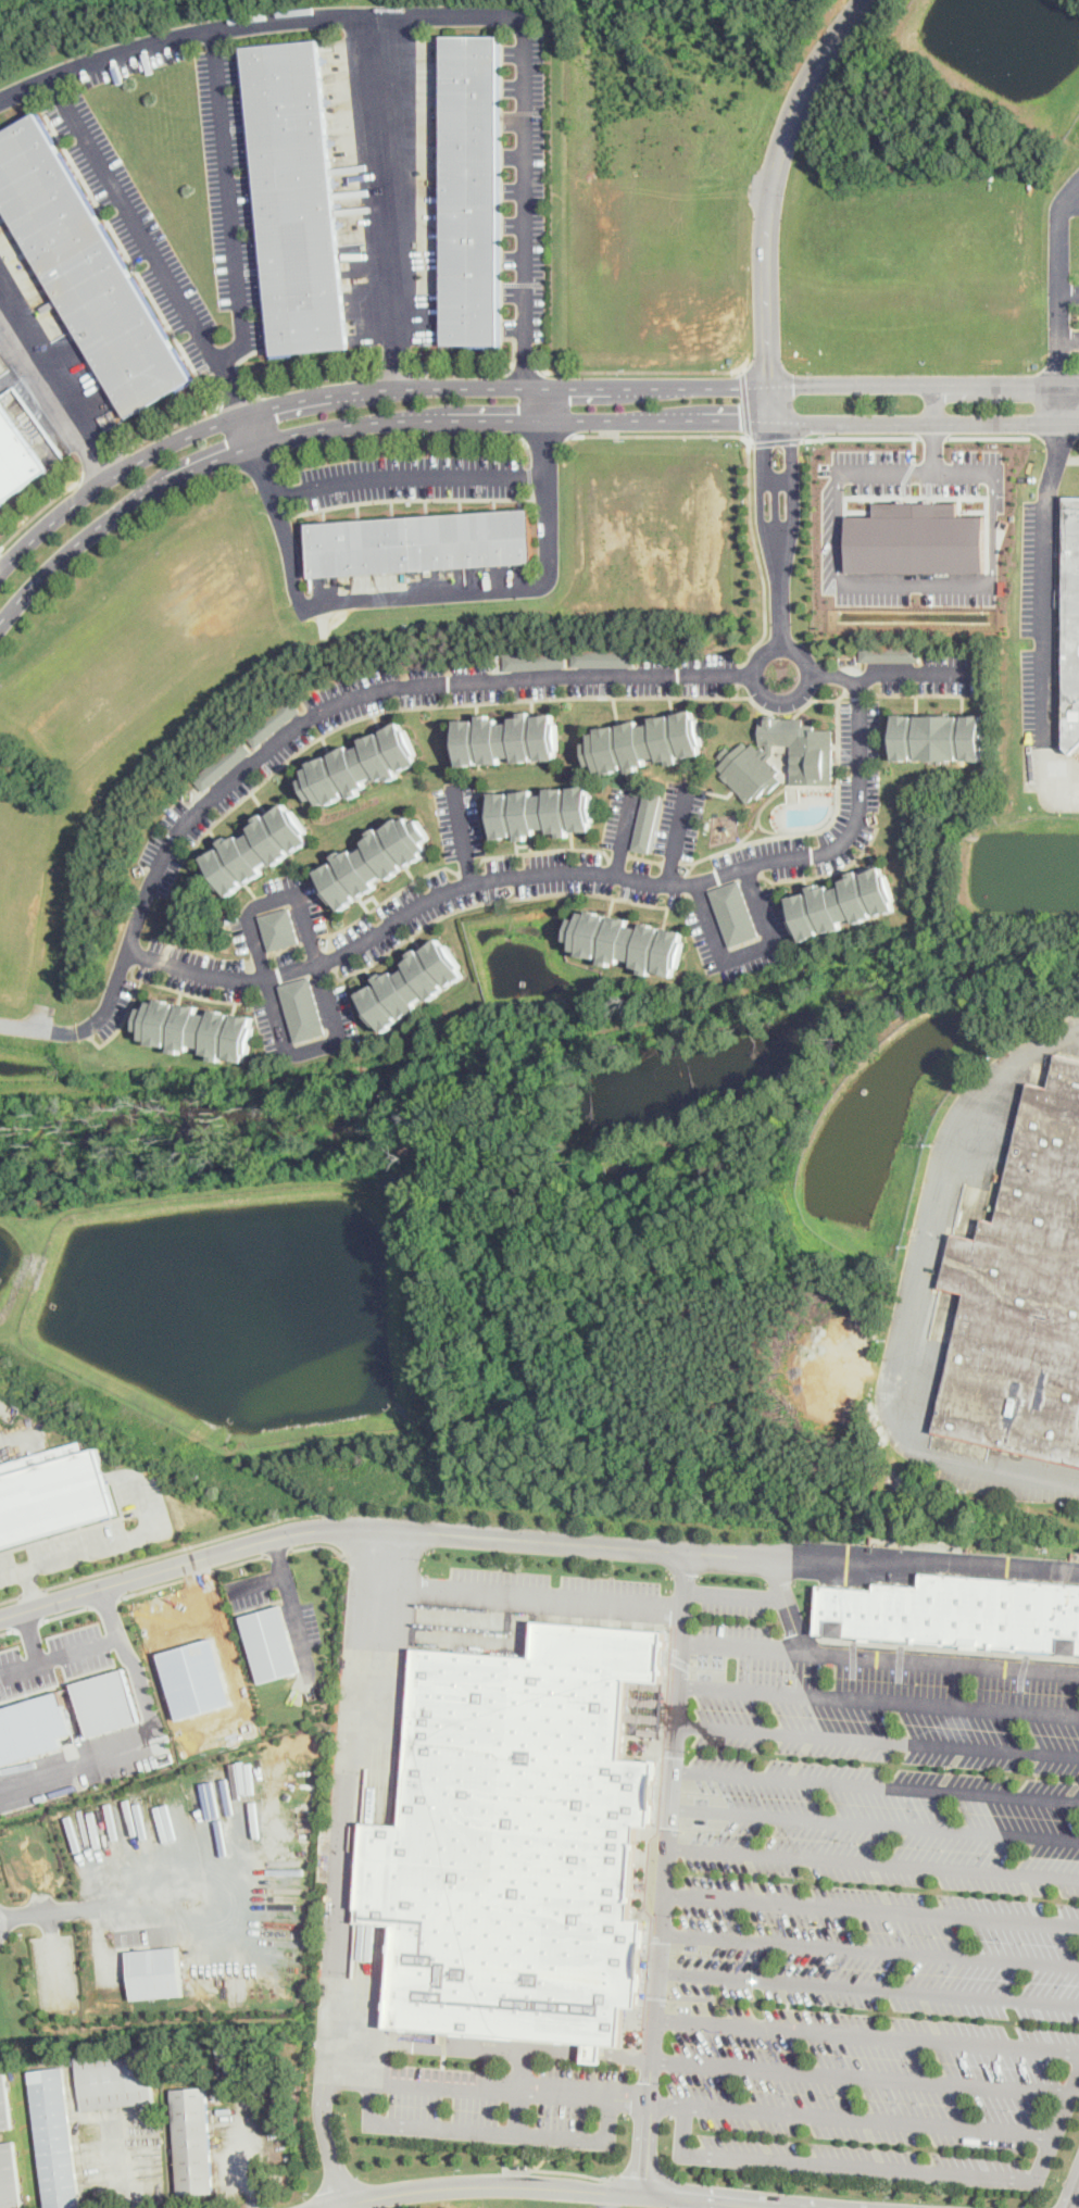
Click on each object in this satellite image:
road: (25, 87)
building: (473, 187)
building: (292, 193)
road: (391, 200)
road: (230, 202)
road: (1058, 236)
road: (765, 242)
building: (84, 271)
road: (261, 294)
road: (160, 311)
road: (1058, 316)
road: (398, 368)
road: (480, 371)
road: (523, 371)
road: (649, 371)
road: (513, 385)
road: (53, 392)
road: (744, 403)
road: (507, 418)
road: (932, 428)
road: (545, 435)
road: (860, 436)
road: (932, 436)
road: (989, 436)
road: (775, 441)
road: (914, 448)
building: (15, 457)
road: (100, 464)
road: (750, 469)
road: (915, 473)
road: (409, 474)
road: (548, 476)
road: (38, 511)
building: (916, 538)
building: (418, 540)
road: (1045, 575)
road: (778, 577)
road: (916, 580)
building: (1071, 617)
building: (889, 651)
building: (601, 656)
building: (535, 658)
road: (884, 674)
road: (795, 693)
building: (272, 722)
building: (934, 736)
building: (501, 738)
building: (639, 739)
building: (801, 747)
building: (221, 764)
building: (362, 764)
building: (749, 769)
building: (536, 811)
building: (644, 821)
road: (624, 832)
road: (677, 833)
road: (462, 835)
building: (261, 848)
building: (375, 862)
building: (838, 902)
building: (733, 912)
building: (279, 928)
building: (622, 940)
road: (749, 952)
road: (319, 970)
road: (206, 974)
building: (416, 984)
road: (113, 991)
building: (303, 1007)
road: (40, 1027)
building: (201, 1029)
road: (1074, 1032)
road: (927, 1206)
building: (1019, 1280)
road: (4, 1406)
building: (959, 1445)
road: (992, 1468)
building: (54, 1496)
road: (431, 1531)
road: (197, 1543)
road: (321, 1543)
road: (104, 1544)
road: (279, 1551)
road: (281, 1555)
road: (243, 1561)
road: (978, 1563)
road: (206, 1572)
road: (35, 1588)
road: (158, 1588)
road: (35, 1592)
road: (534, 1592)
road: (739, 1594)
road: (293, 1596)
road: (12, 1598)
road: (108, 1602)
road: (790, 1603)
building: (959, 1610)
road: (70, 1613)
road: (184, 1618)
road: (29, 1626)
road: (8, 1630)
road: (33, 1636)
building: (272, 1644)
road: (61, 1655)
road: (882, 1655)
road: (138, 1663)
road: (234, 1667)
building: (195, 1679)
road: (880, 1699)
building: (108, 1701)
building: (34, 1727)
road: (878, 1737)
road: (81, 1768)
road: (876, 1784)
road: (351, 1801)
road: (875, 1821)
building: (519, 1835)
road: (873, 1861)
road: (664, 1871)
road: (870, 1908)
road: (106, 1910)
parking lot: (877, 1919)
road: (869, 1948)
building: (153, 1972)
road: (867, 1986)
road: (865, 2034)
road: (430, 2044)
road: (586, 2050)
road: (523, 2069)
road: (858, 2074)
building: (113, 2078)
road: (484, 2085)
building: (3, 2104)
road: (519, 2111)
road: (848, 2117)
road: (487, 2130)
building: (53, 2137)
road: (327, 2137)
building: (192, 2140)
road: (247, 2156)
road: (134, 2163)
road: (891, 2167)
road: (560, 2170)
building: (8, 2176)
road: (626, 2176)
road: (419, 2188)
road: (1072, 2193)
road: (660, 2195)
road: (610, 2199)
road: (699, 2203)
road: (351, 2204)

